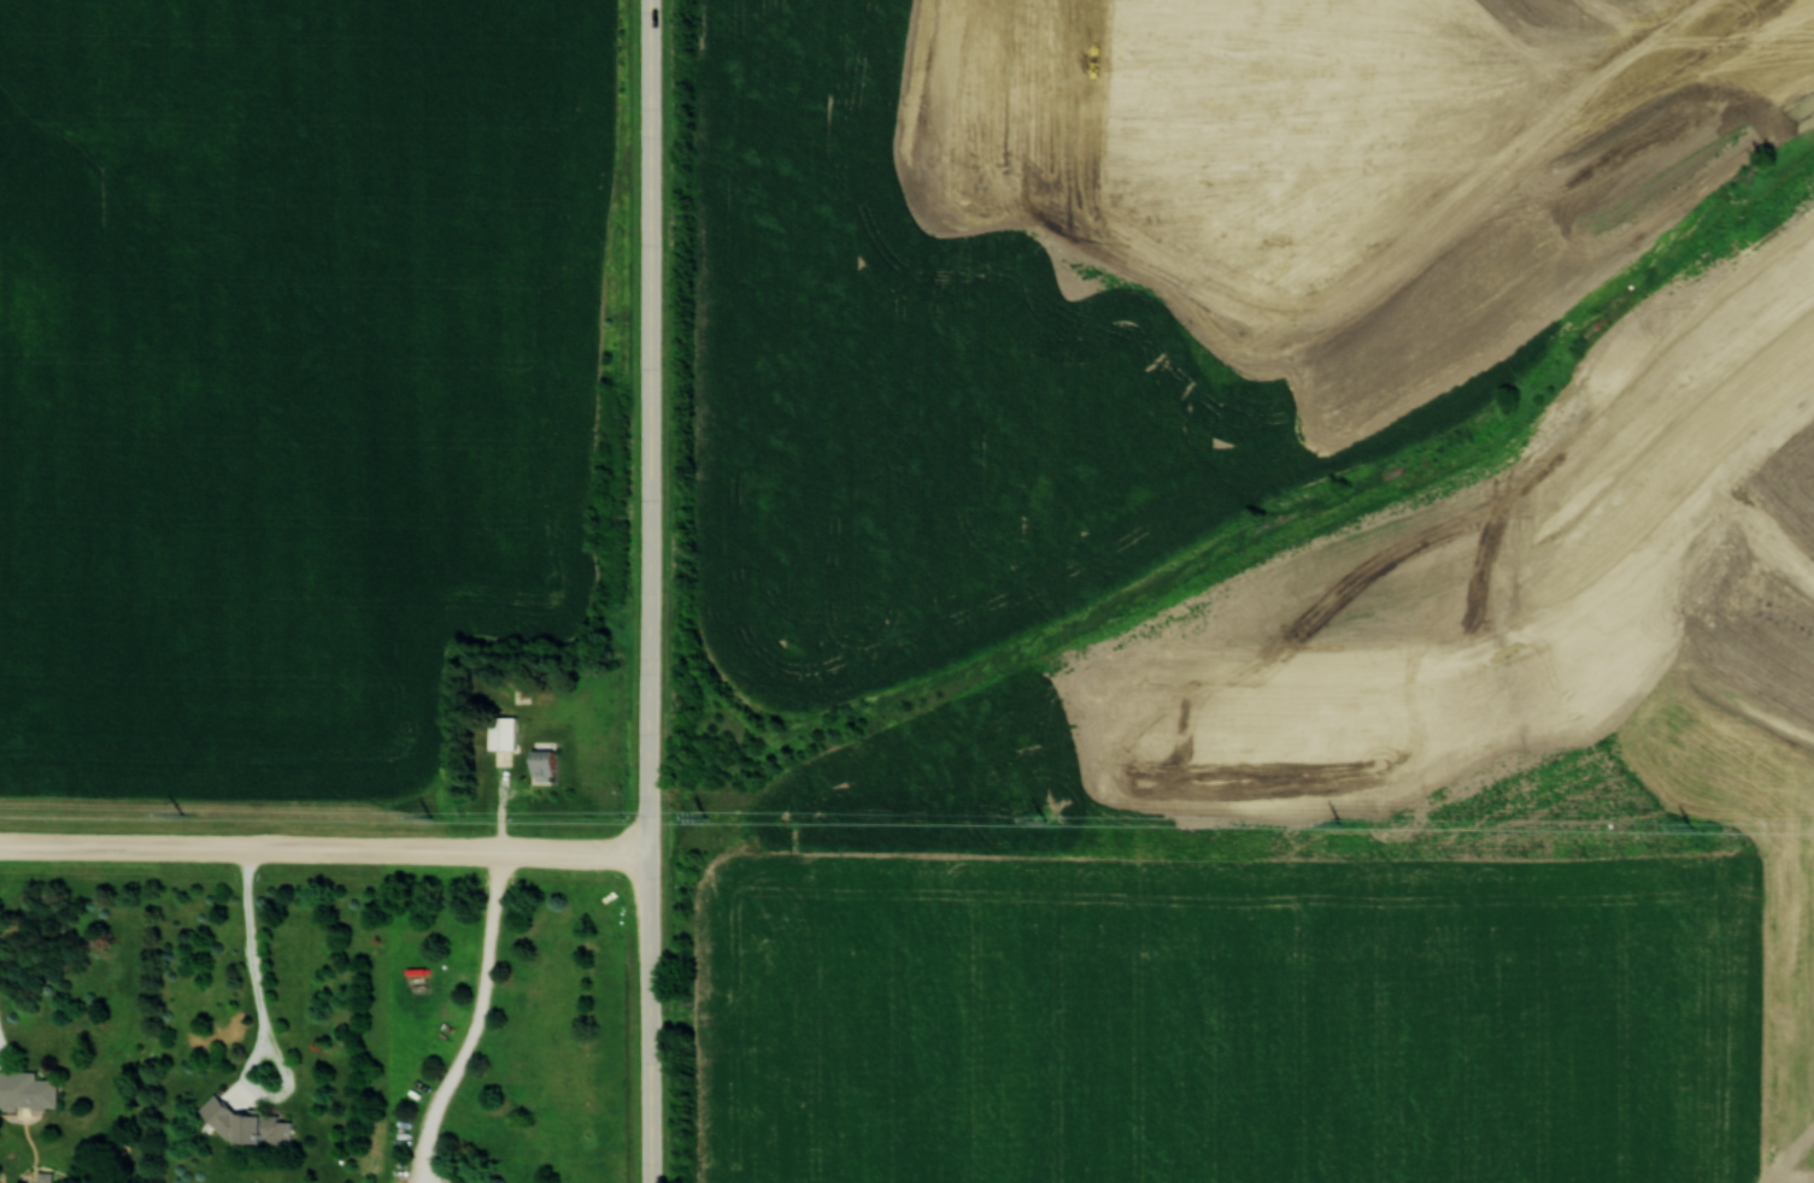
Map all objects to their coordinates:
road: (1773, 27)
road: (648, 424)
park: (1545, 424)
road: (1698, 449)
road: (1749, 524)
road: (1579, 564)
building: (501, 732)
building: (544, 765)
power tower: (183, 813)
power tower: (704, 817)
power tower: (429, 818)
power tower: (1046, 822)
power tower: (1340, 826)
power tower: (1691, 829)
road: (324, 847)
road: (648, 1017)
road: (480, 1020)
road: (265, 1023)
building: (27, 1090)
building: (248, 1124)
building: (45, 1177)

